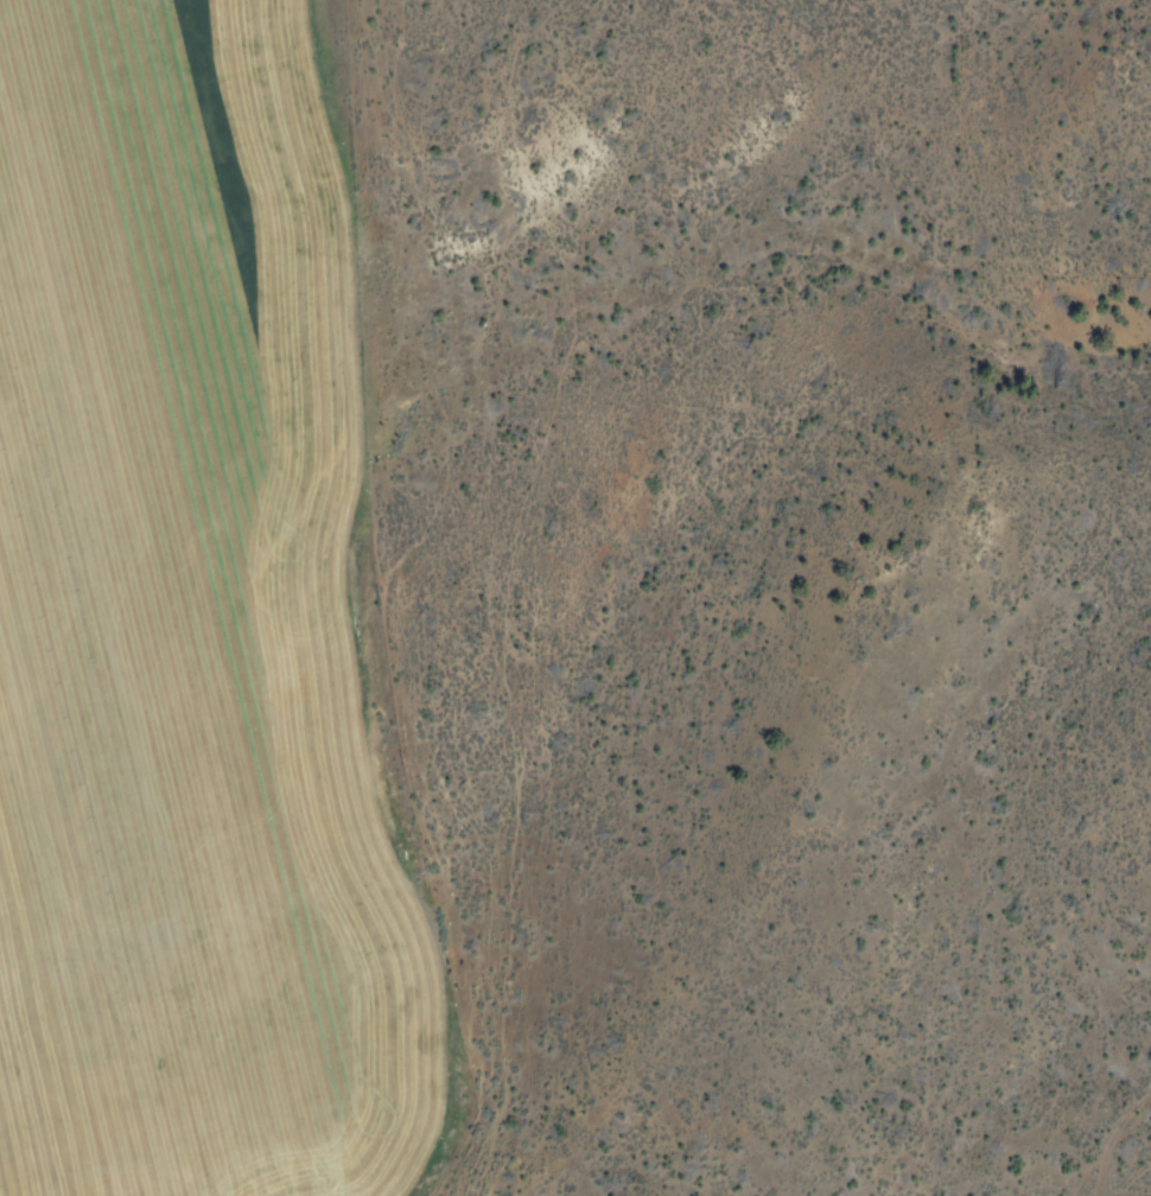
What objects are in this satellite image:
crop: (199, 625)
road: (7, 1166)

